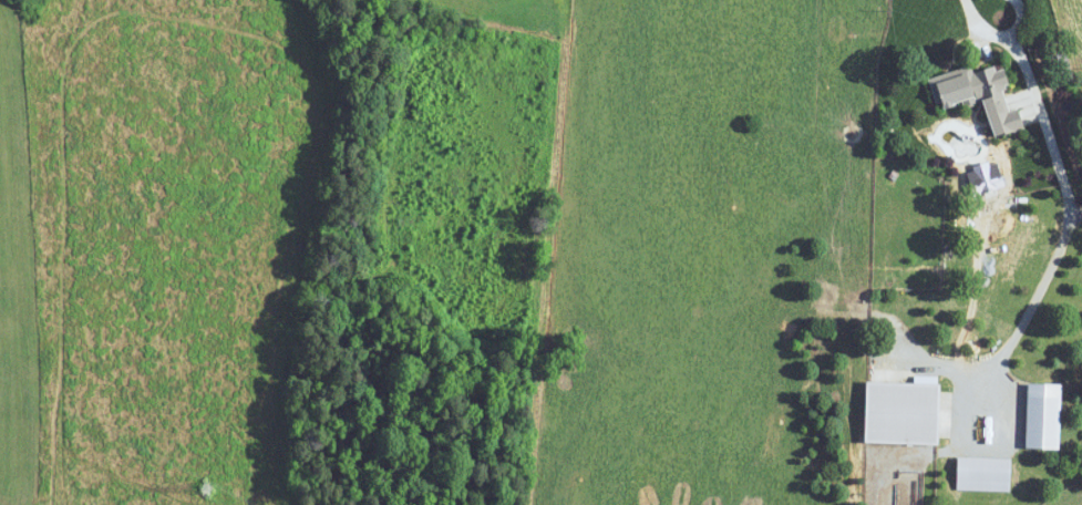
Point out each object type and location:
road: (998, 37)
building: (964, 85)
road: (1053, 262)
road: (986, 406)
building: (904, 413)
building: (1042, 414)
building: (986, 474)
power tower: (207, 486)

